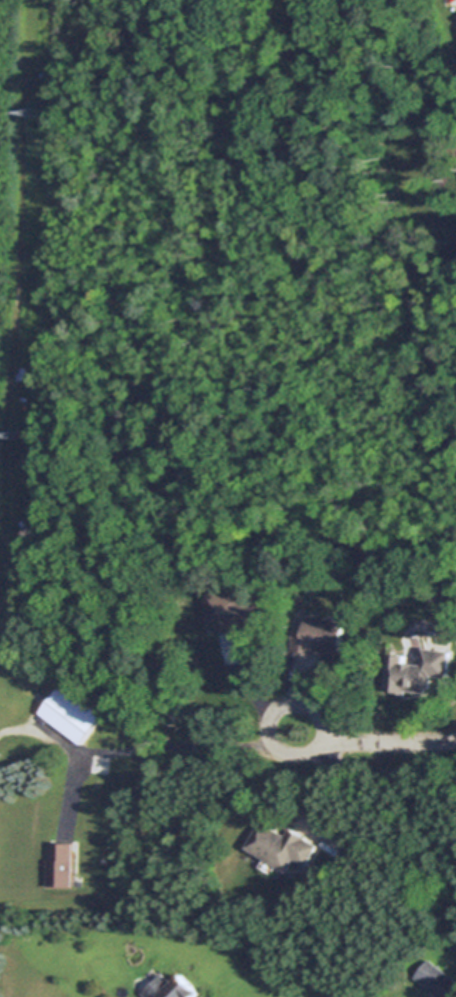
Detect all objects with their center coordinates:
power tower: (34, 113)
building: (447, 117)
power tower: (14, 435)
building: (309, 586)
building: (242, 622)
building: (24, 634)
building: (322, 637)
building: (418, 671)
building: (78, 692)
road: (250, 692)
building: (69, 716)
road: (374, 743)
road: (146, 749)
building: (284, 845)
building: (62, 865)
building: (438, 979)
building: (172, 988)

